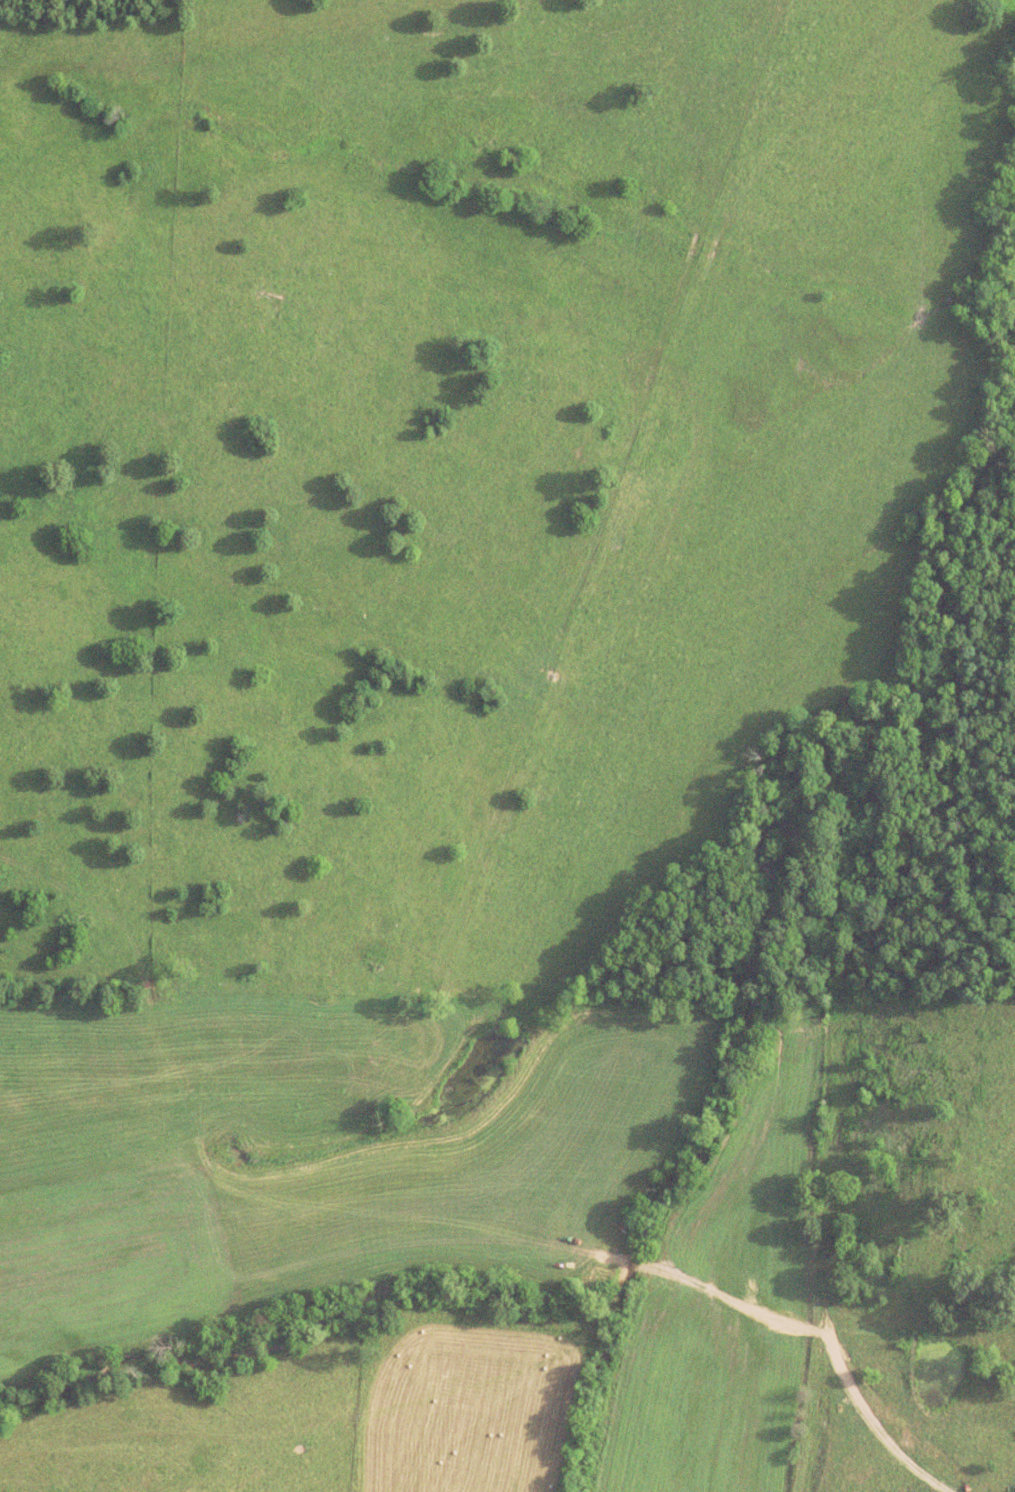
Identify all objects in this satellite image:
building: (1008, 1490)

